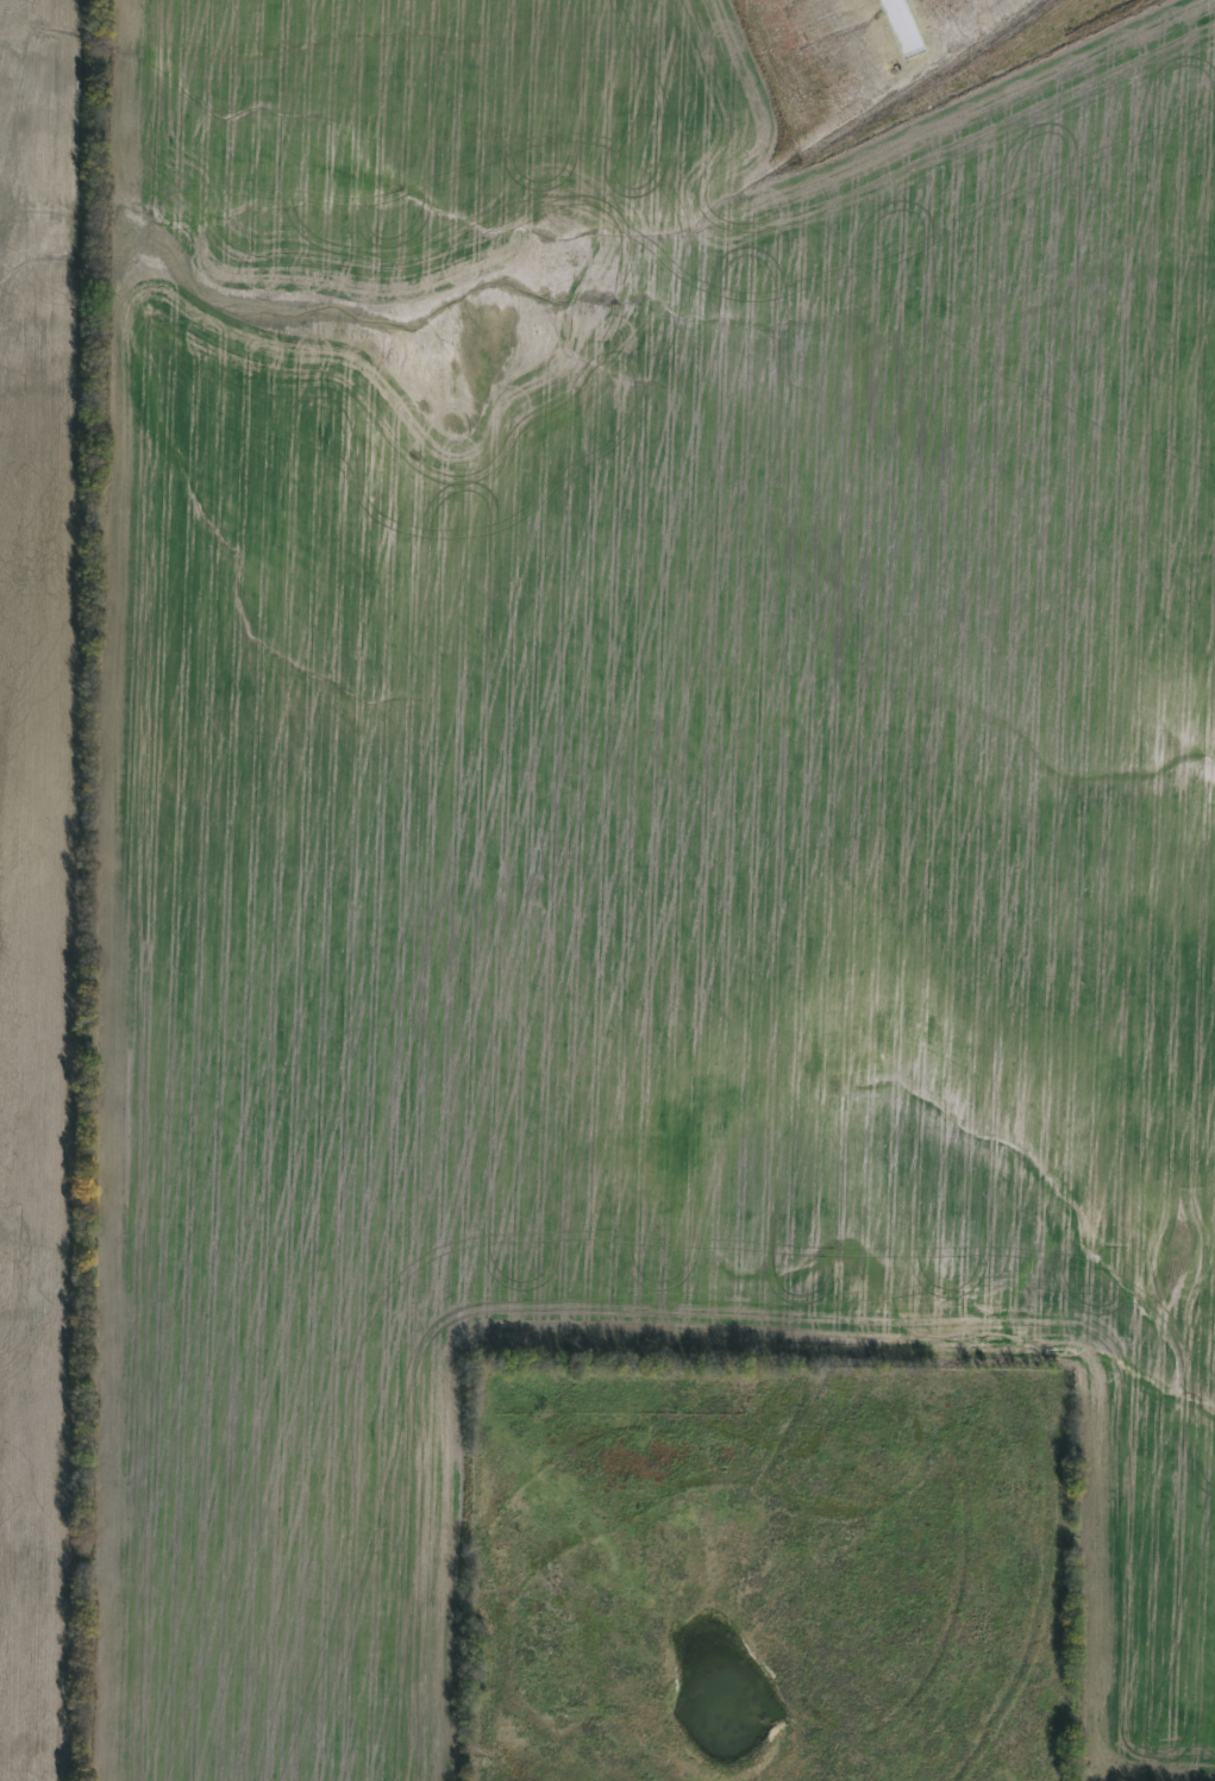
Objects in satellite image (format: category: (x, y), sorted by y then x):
road: (903, 23)

